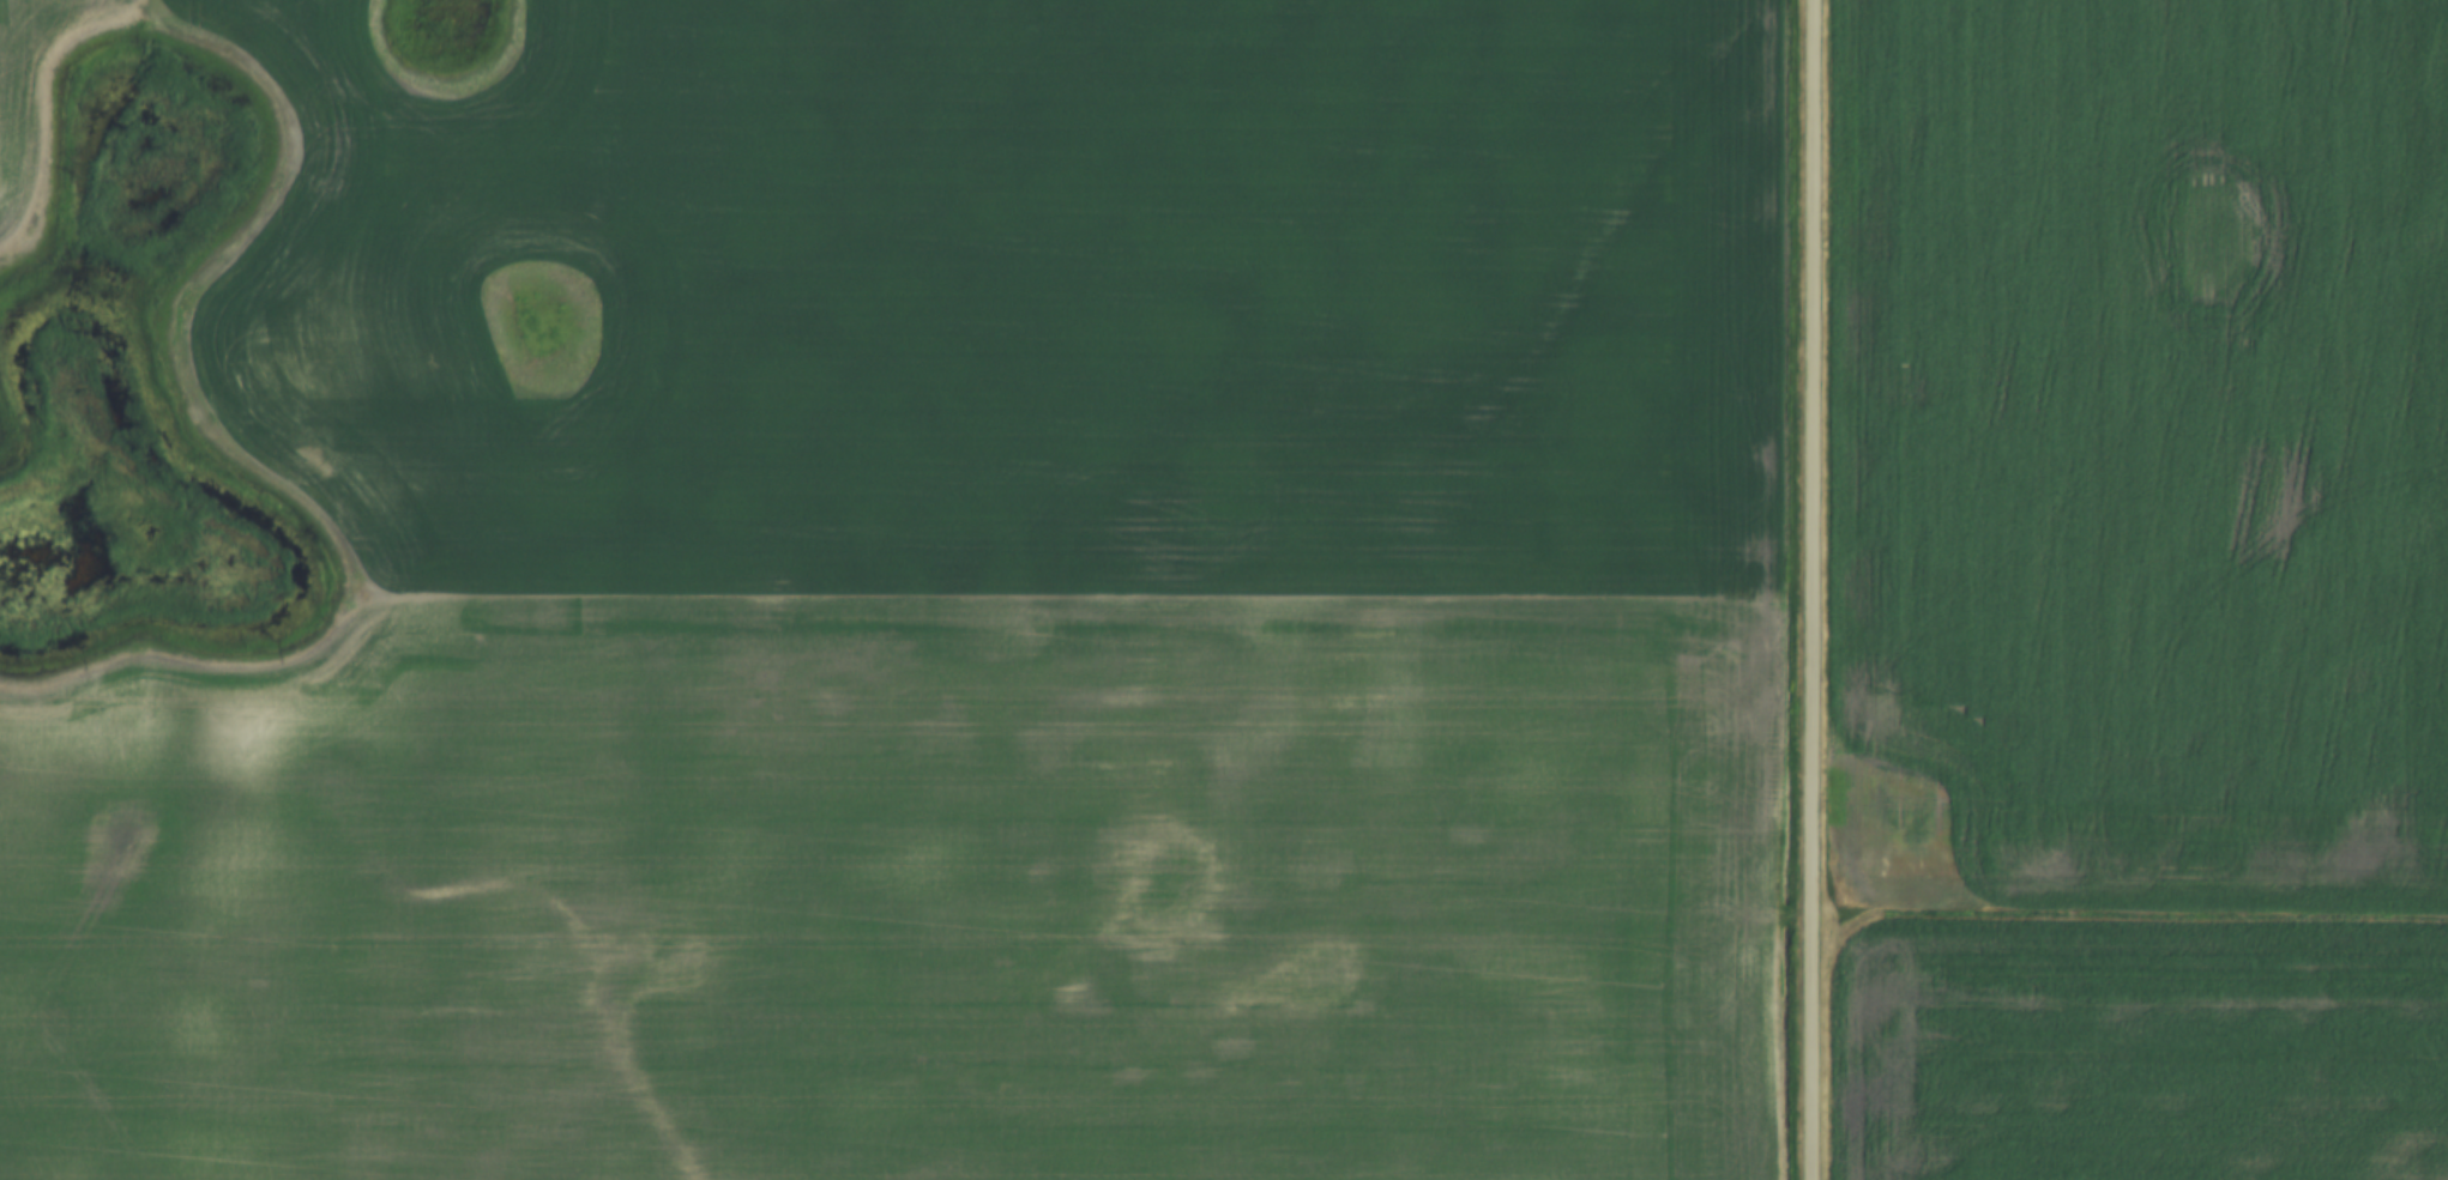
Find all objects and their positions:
road: (1817, 589)

